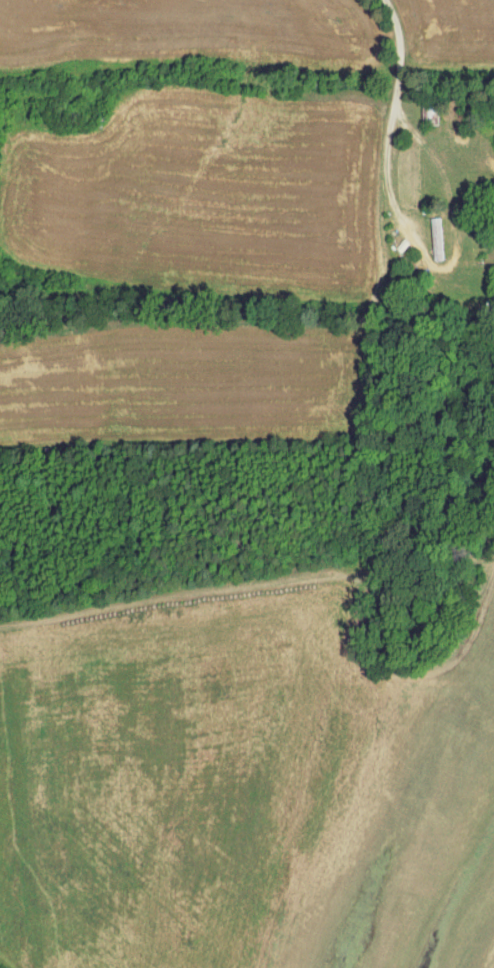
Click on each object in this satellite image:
road: (405, 123)
road: (392, 124)

